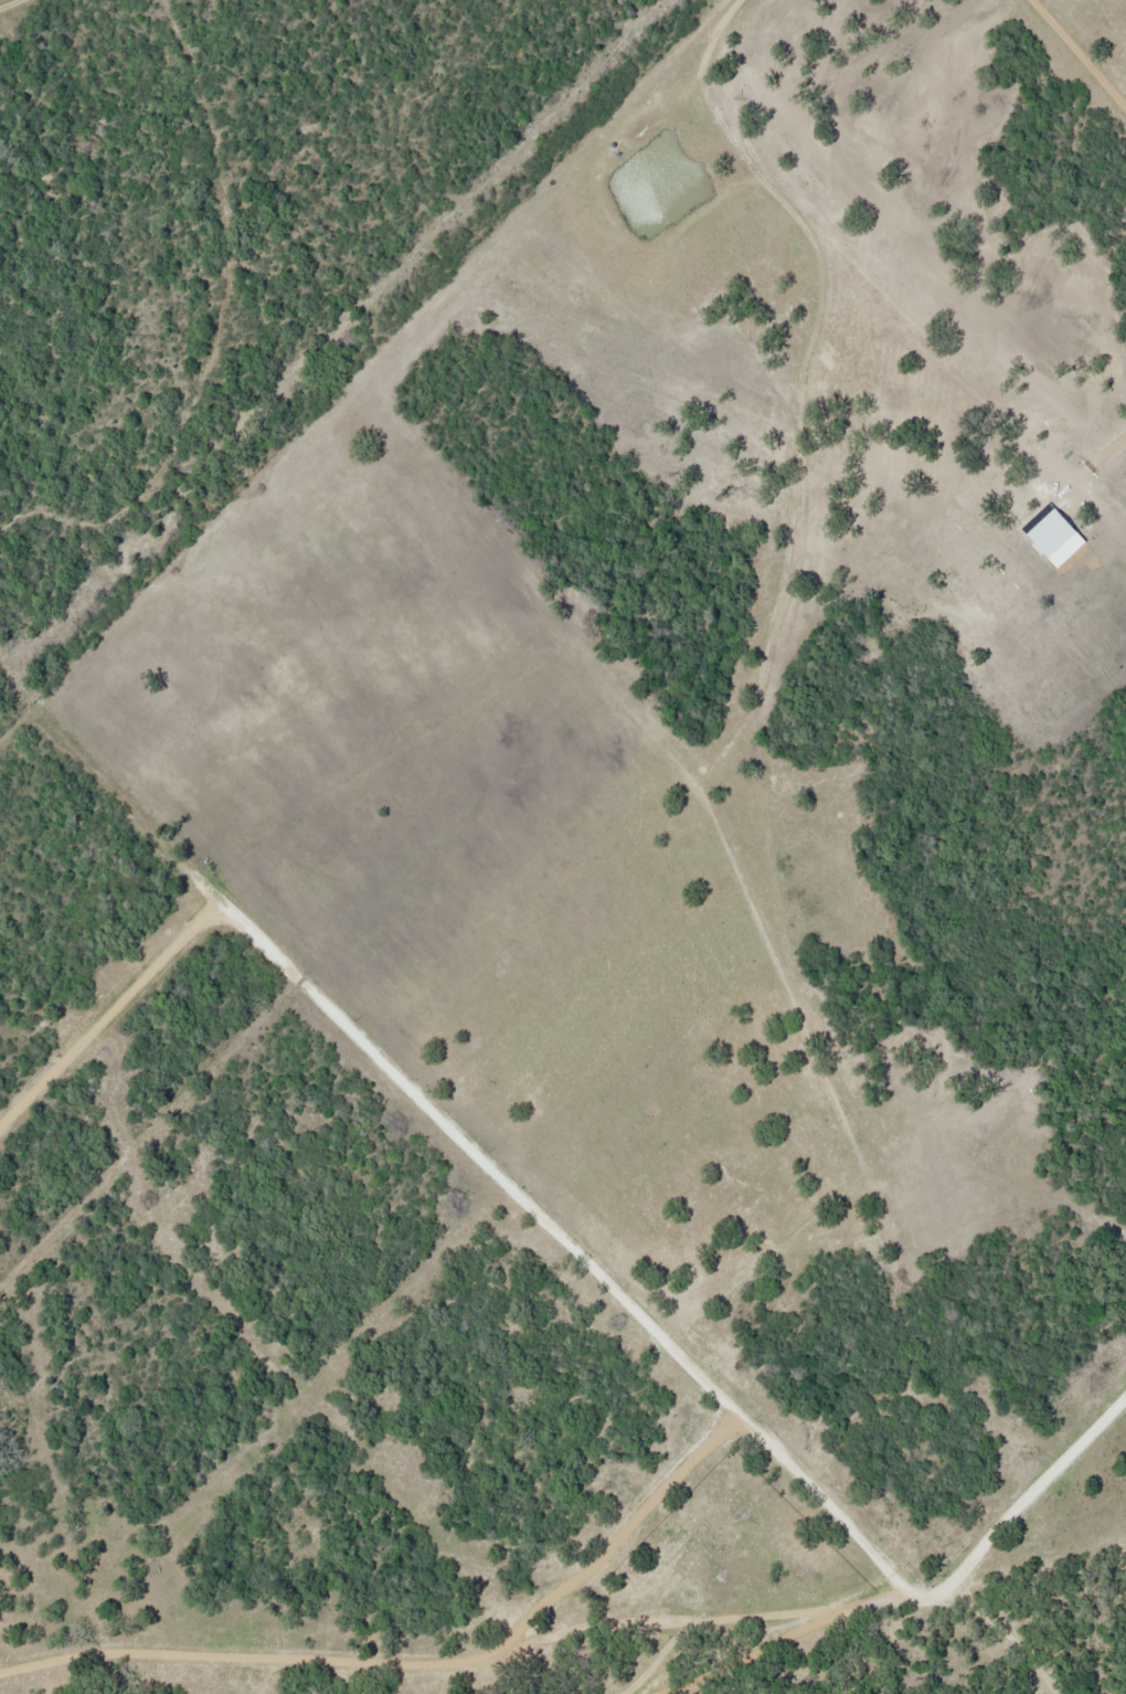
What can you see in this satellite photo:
road: (14, 4)
road: (801, 423)
road: (948, 1582)
road: (661, 1660)
road: (353, 1671)

